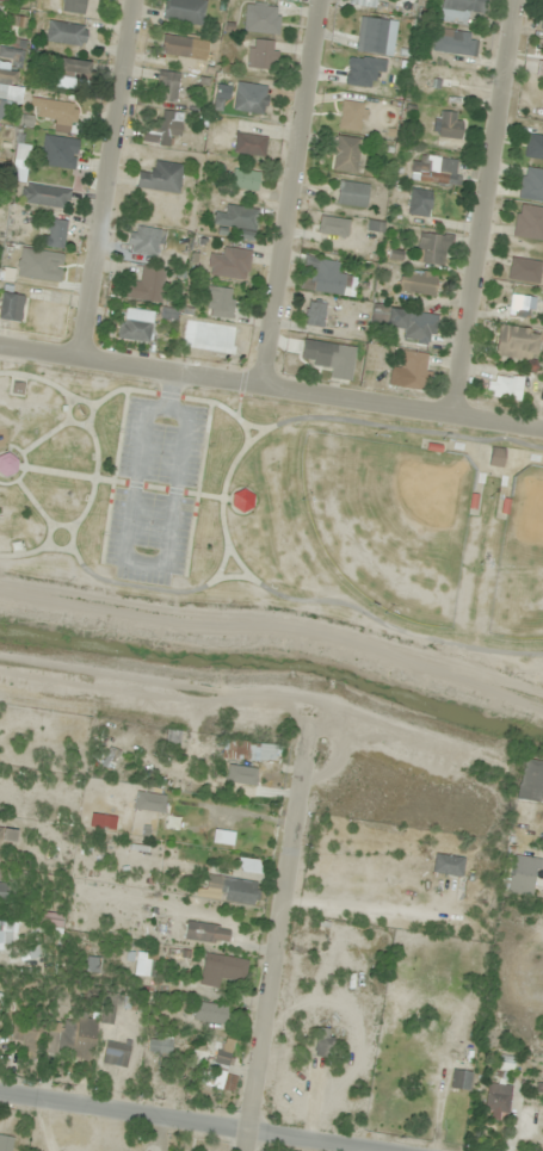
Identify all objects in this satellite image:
building: (1, 0)
building: (366, 2)
building: (73, 6)
building: (458, 10)
building: (184, 11)
building: (0, 16)
building: (261, 19)
building: (542, 23)
building: (64, 33)
building: (375, 36)
building: (453, 42)
building: (174, 45)
building: (10, 54)
building: (260, 55)
building: (541, 66)
building: (70, 69)
building: (448, 80)
building: (166, 86)
building: (7, 93)
building: (248, 98)
building: (55, 111)
building: (351, 116)
building: (446, 124)
building: (163, 128)
building: (248, 144)
building: (533, 147)
building: (57, 151)
building: (345, 154)
building: (434, 169)
building: (160, 178)
road: (111, 179)
building: (243, 179)
building: (531, 184)
road: (294, 193)
building: (351, 193)
building: (44, 196)
building: (437, 205)
road: (488, 208)
building: (236, 221)
building: (529, 222)
building: (332, 225)
building: (54, 233)
building: (143, 240)
building: (432, 249)
building: (228, 264)
building: (523, 270)
building: (326, 278)
building: (415, 284)
building: (146, 285)
building: (218, 302)
building: (11, 305)
building: (519, 308)
building: (313, 314)
building: (411, 324)
building: (136, 329)
building: (329, 358)
building: (412, 370)
road: (271, 386)
building: (502, 388)
road: (177, 396)
road: (409, 428)
building: (494, 456)
road: (98, 463)
building: (7, 464)
parking lot: (156, 489)
building: (241, 501)
park: (277, 509)
park: (390, 521)
park: (520, 559)
road: (128, 563)
road: (146, 587)
road: (308, 601)
building: (174, 738)
building: (248, 753)
building: (109, 757)
building: (240, 775)
building: (525, 796)
building: (148, 802)
road: (530, 817)
building: (101, 821)
building: (6, 834)
building: (446, 865)
building: (522, 875)
building: (2, 884)
building: (229, 890)
building: (47, 920)
road: (276, 930)
building: (5, 932)
building: (205, 933)
building: (143, 964)
building: (220, 970)
building: (0, 994)
building: (107, 1009)
building: (206, 1013)
building: (25, 1036)
building: (70, 1038)
building: (321, 1041)
building: (159, 1044)
building: (218, 1052)
building: (115, 1053)
building: (459, 1079)
building: (220, 1081)
building: (496, 1099)
road: (200, 1118)
building: (5, 1143)

